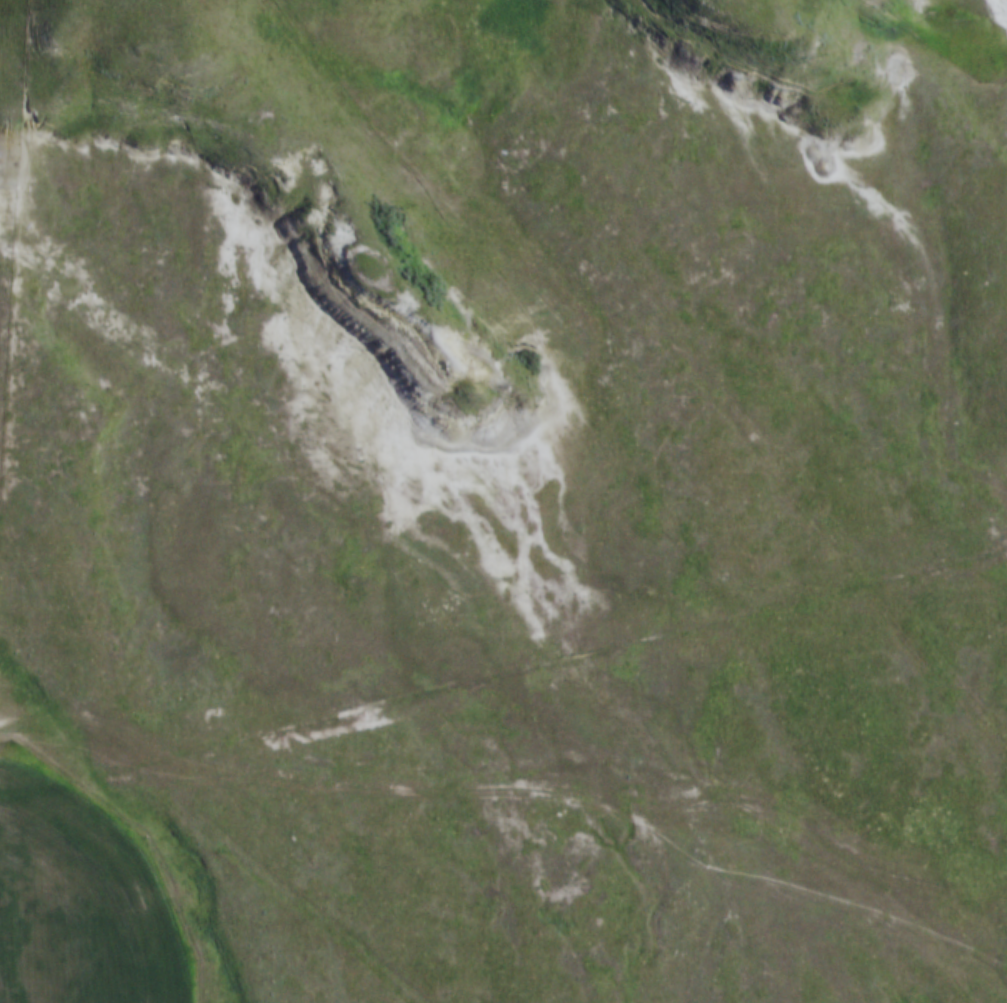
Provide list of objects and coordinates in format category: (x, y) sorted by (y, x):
road: (806, 484)
road: (506, 790)
crop: (74, 909)

